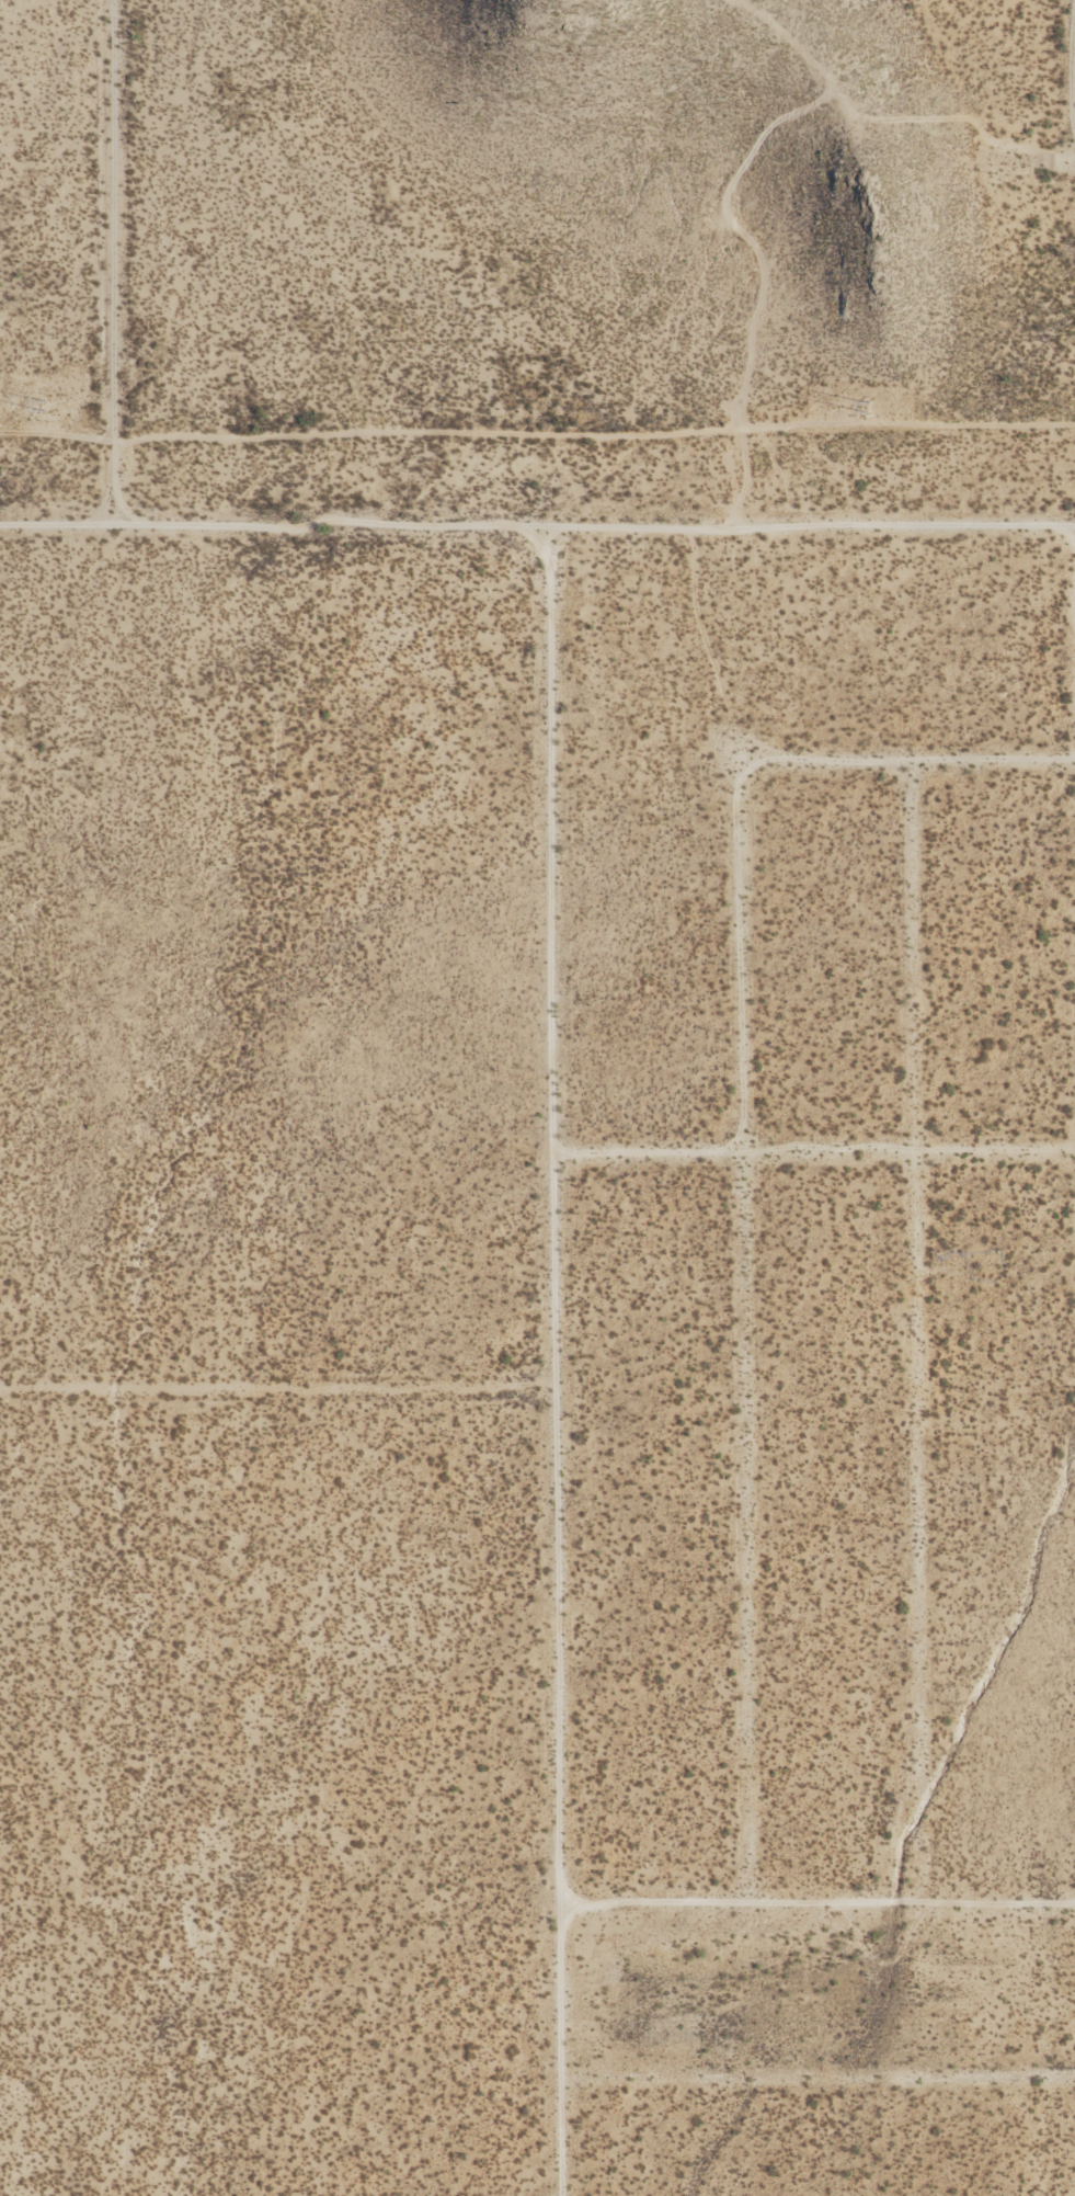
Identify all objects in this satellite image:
road: (1033, 180)
road: (113, 262)
road: (56, 524)
road: (593, 528)
road: (814, 1151)
road: (743, 1172)
road: (920, 1346)
road: (553, 1363)
road: (276, 1387)
road: (1014, 1640)
road: (816, 1920)
road: (816, 2078)

